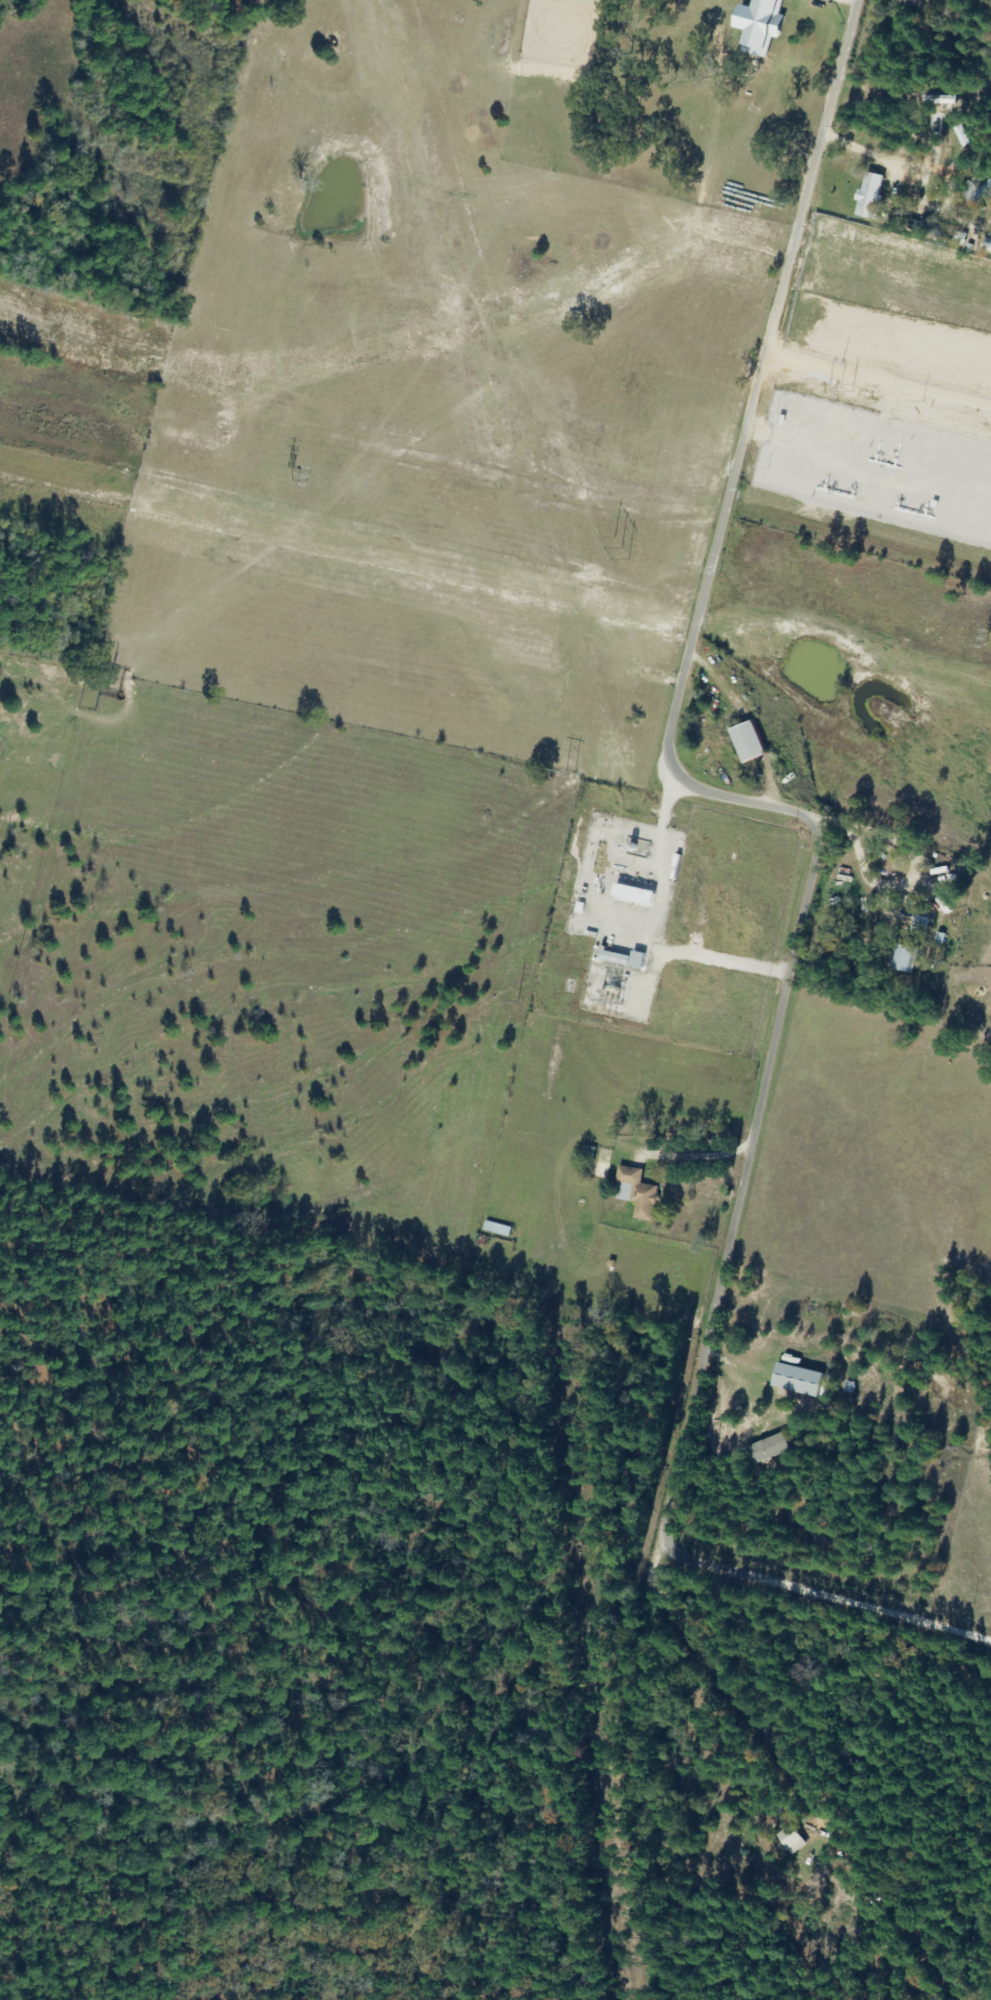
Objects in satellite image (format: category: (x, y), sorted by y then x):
building: (753, 2)
building: (869, 191)
building: (976, 192)
power tower: (292, 472)
power tower: (621, 547)
power tower: (987, 635)
building: (745, 741)
power tower: (572, 772)
building: (919, 924)
building: (623, 958)
building: (901, 958)
power substation: (620, 988)
road: (779, 1000)
building: (599, 1169)
building: (636, 1192)
building: (497, 1227)
road: (847, 1336)
building: (796, 1379)
road: (834, 1539)
building: (790, 1839)

